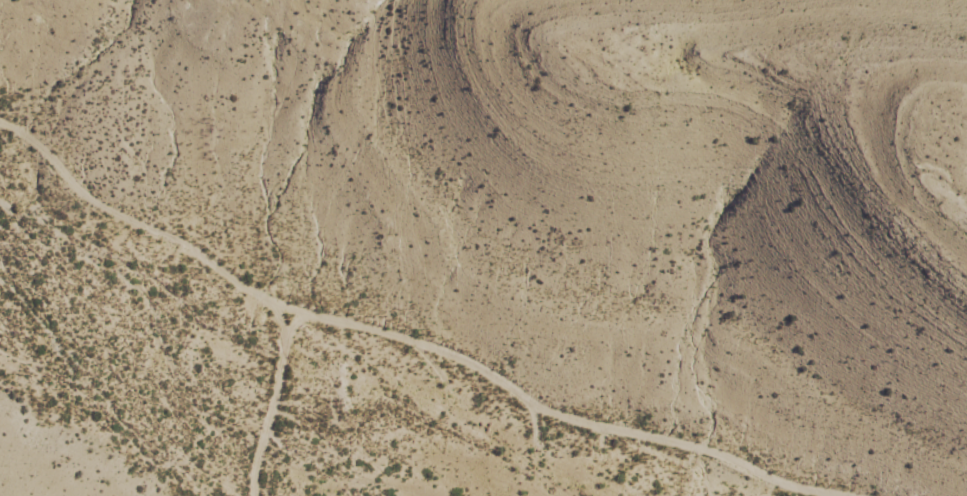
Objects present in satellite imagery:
road: (145, 241)
road: (484, 376)

